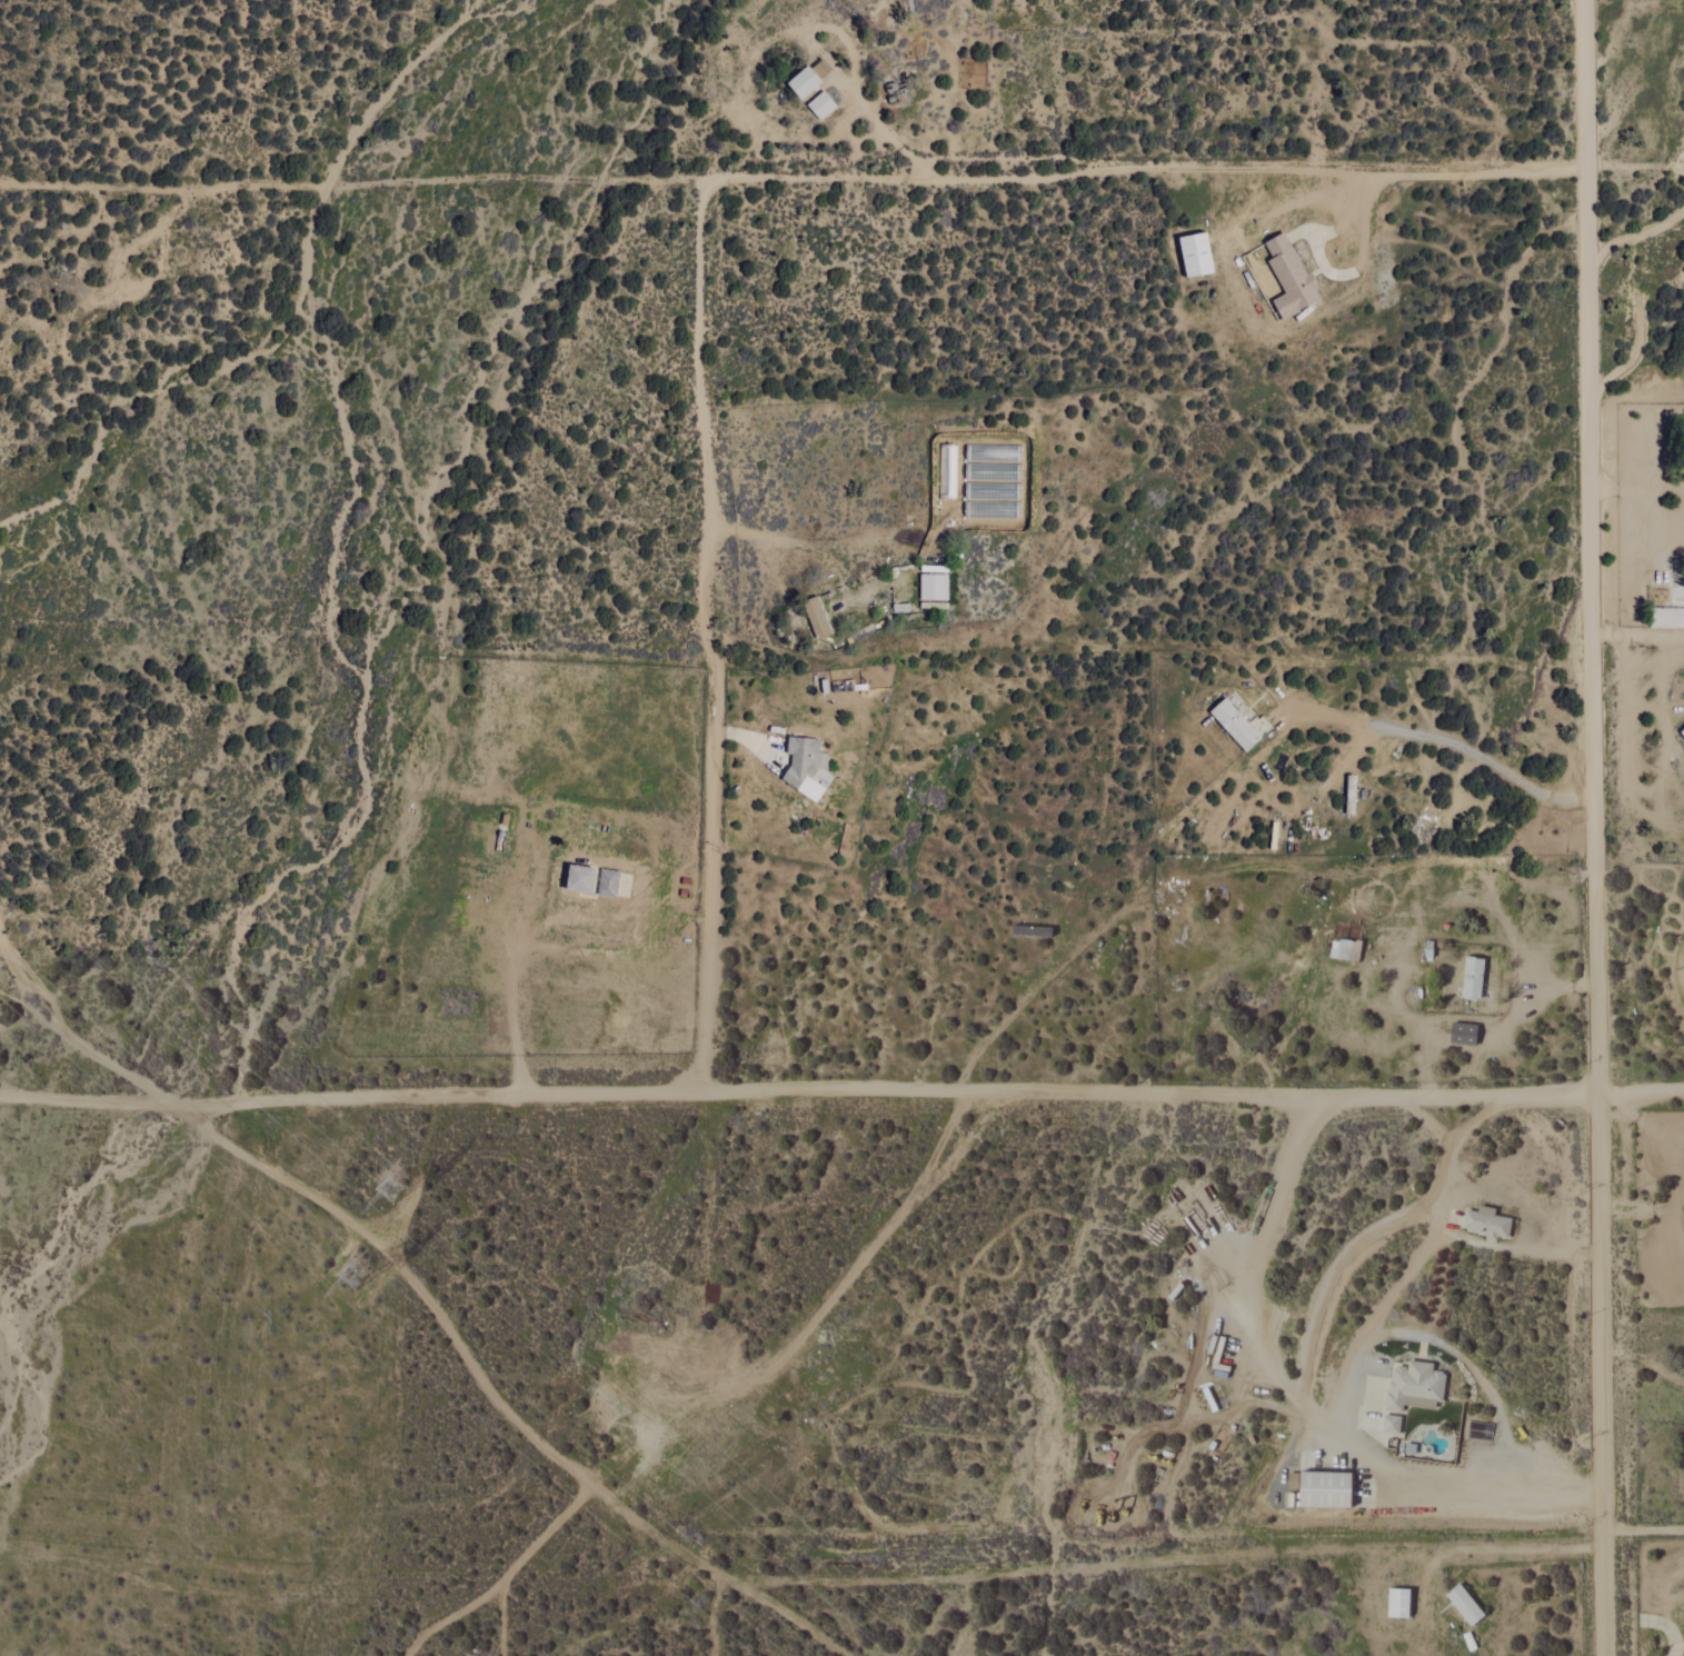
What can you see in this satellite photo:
building: (805, 84)
building: (820, 106)
road: (1634, 166)
road: (1145, 172)
road: (1311, 200)
building: (1195, 256)
building: (1289, 277)
road: (1636, 491)
road: (1588, 546)
road: (814, 553)
road: (768, 555)
building: (816, 617)
building: (1666, 617)
road: (706, 634)
road: (1636, 635)
building: (1237, 725)
building: (1682, 732)
road: (1448, 741)
building: (804, 766)
road: (1641, 790)
building: (579, 878)
building: (607, 882)
building: (1683, 969)
building: (1472, 977)
building: (1463, 1034)
road: (799, 1090)
road: (1642, 1091)
road: (1673, 1177)
power tower: (391, 1187)
road: (1635, 1208)
building: (1486, 1223)
road: (1379, 1229)
road: (1673, 1236)
road: (1258, 1237)
power tower: (343, 1267)
road: (425, 1290)
road: (1601, 1374)
building: (1414, 1387)
road: (1347, 1396)
road: (1306, 1419)
building: (1391, 1424)
building: (1324, 1490)
road: (1644, 1530)
road: (1483, 1547)
building: (1397, 1604)
building: (1464, 1605)

